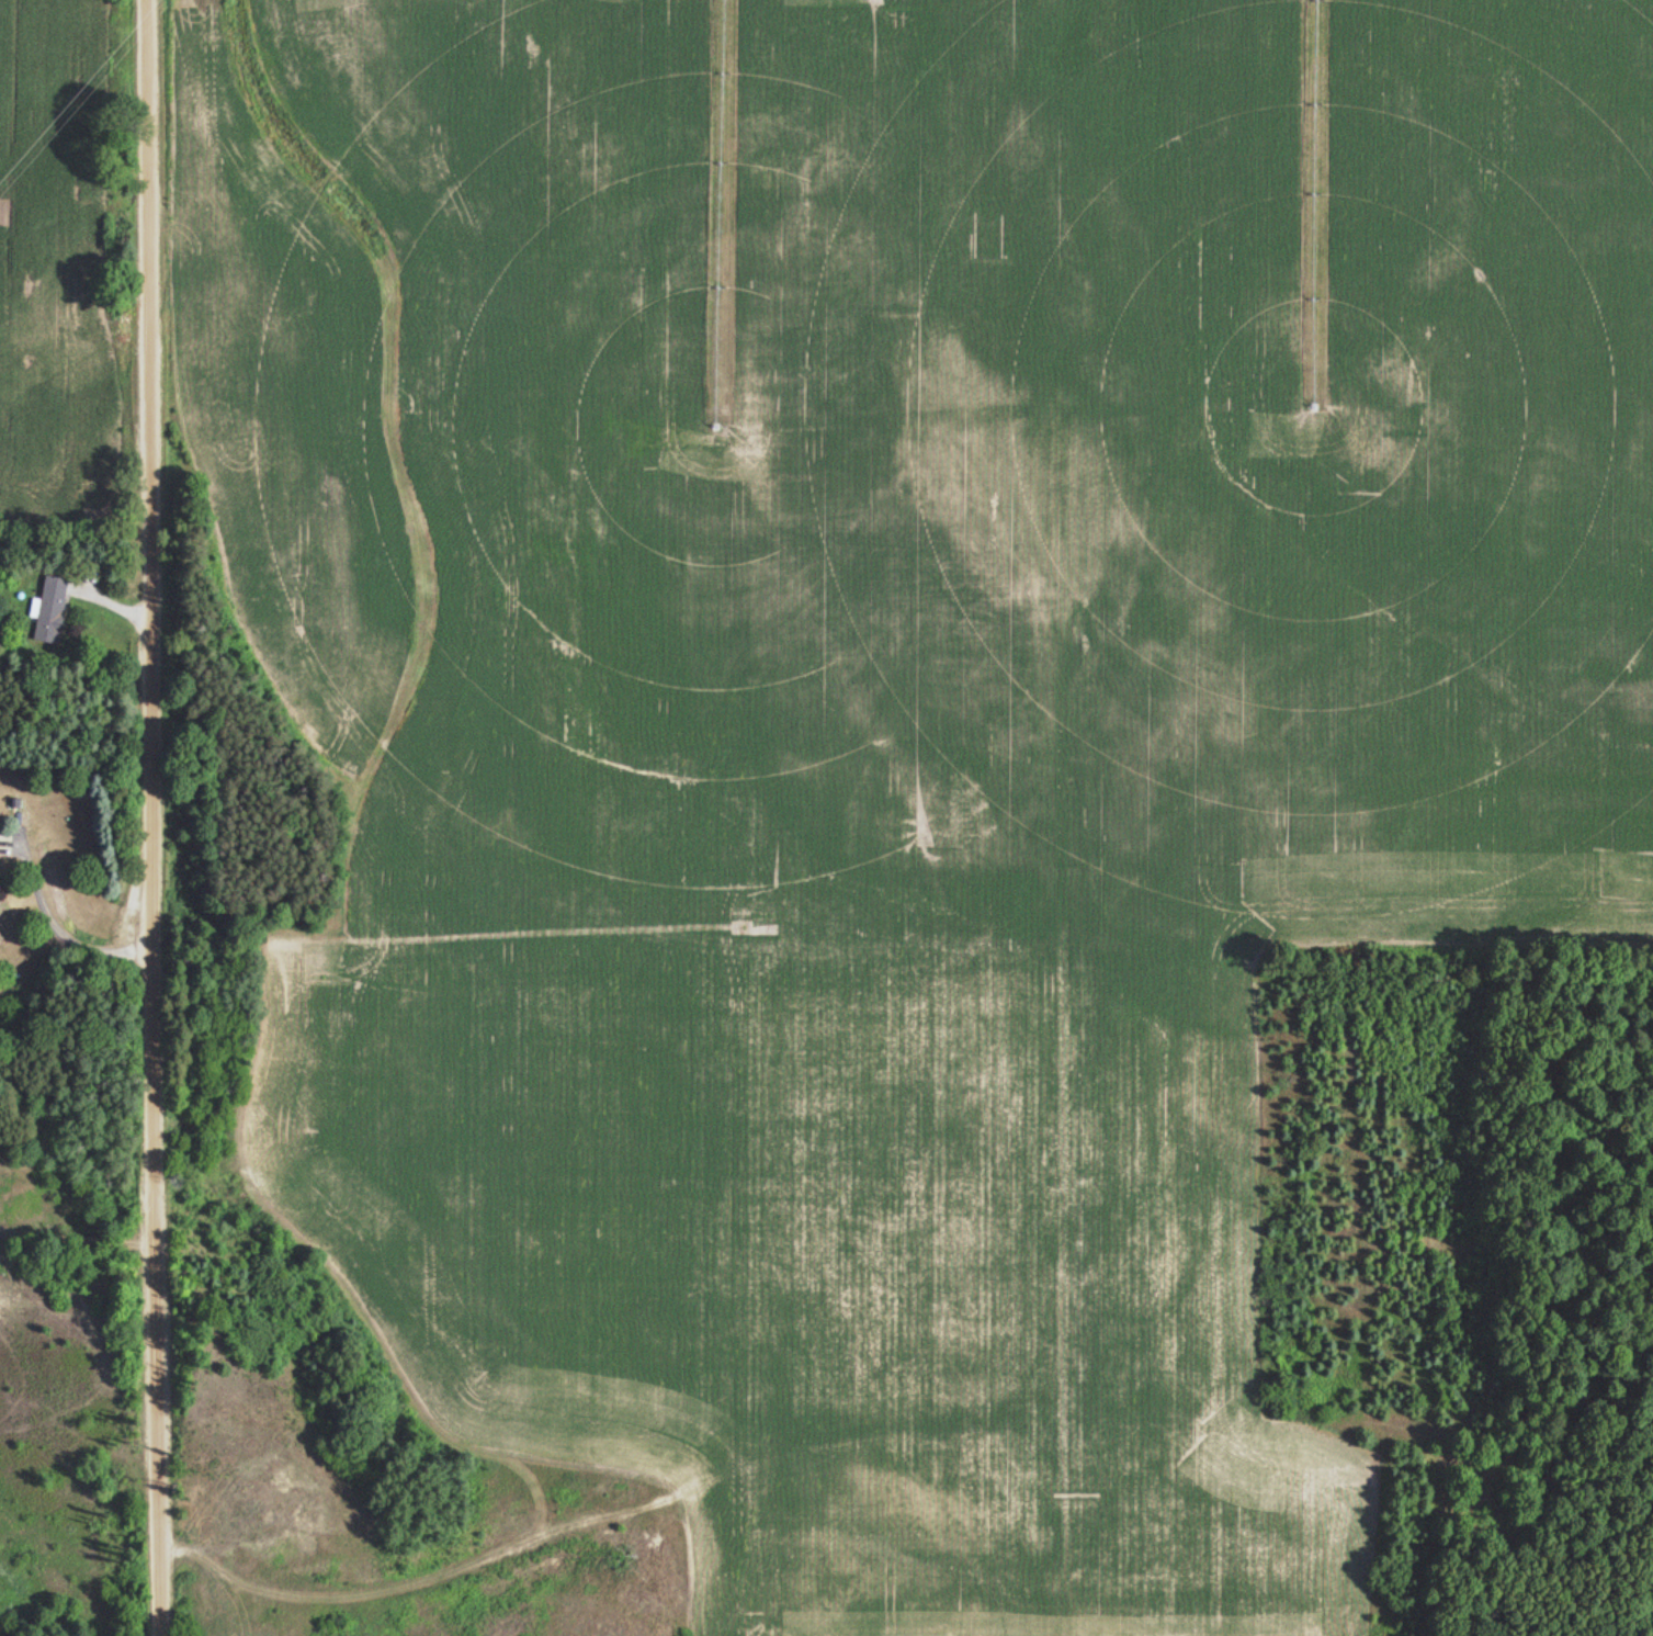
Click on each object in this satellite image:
building: (49, 610)
road: (133, 817)
building: (307, 1515)
building: (246, 1520)

